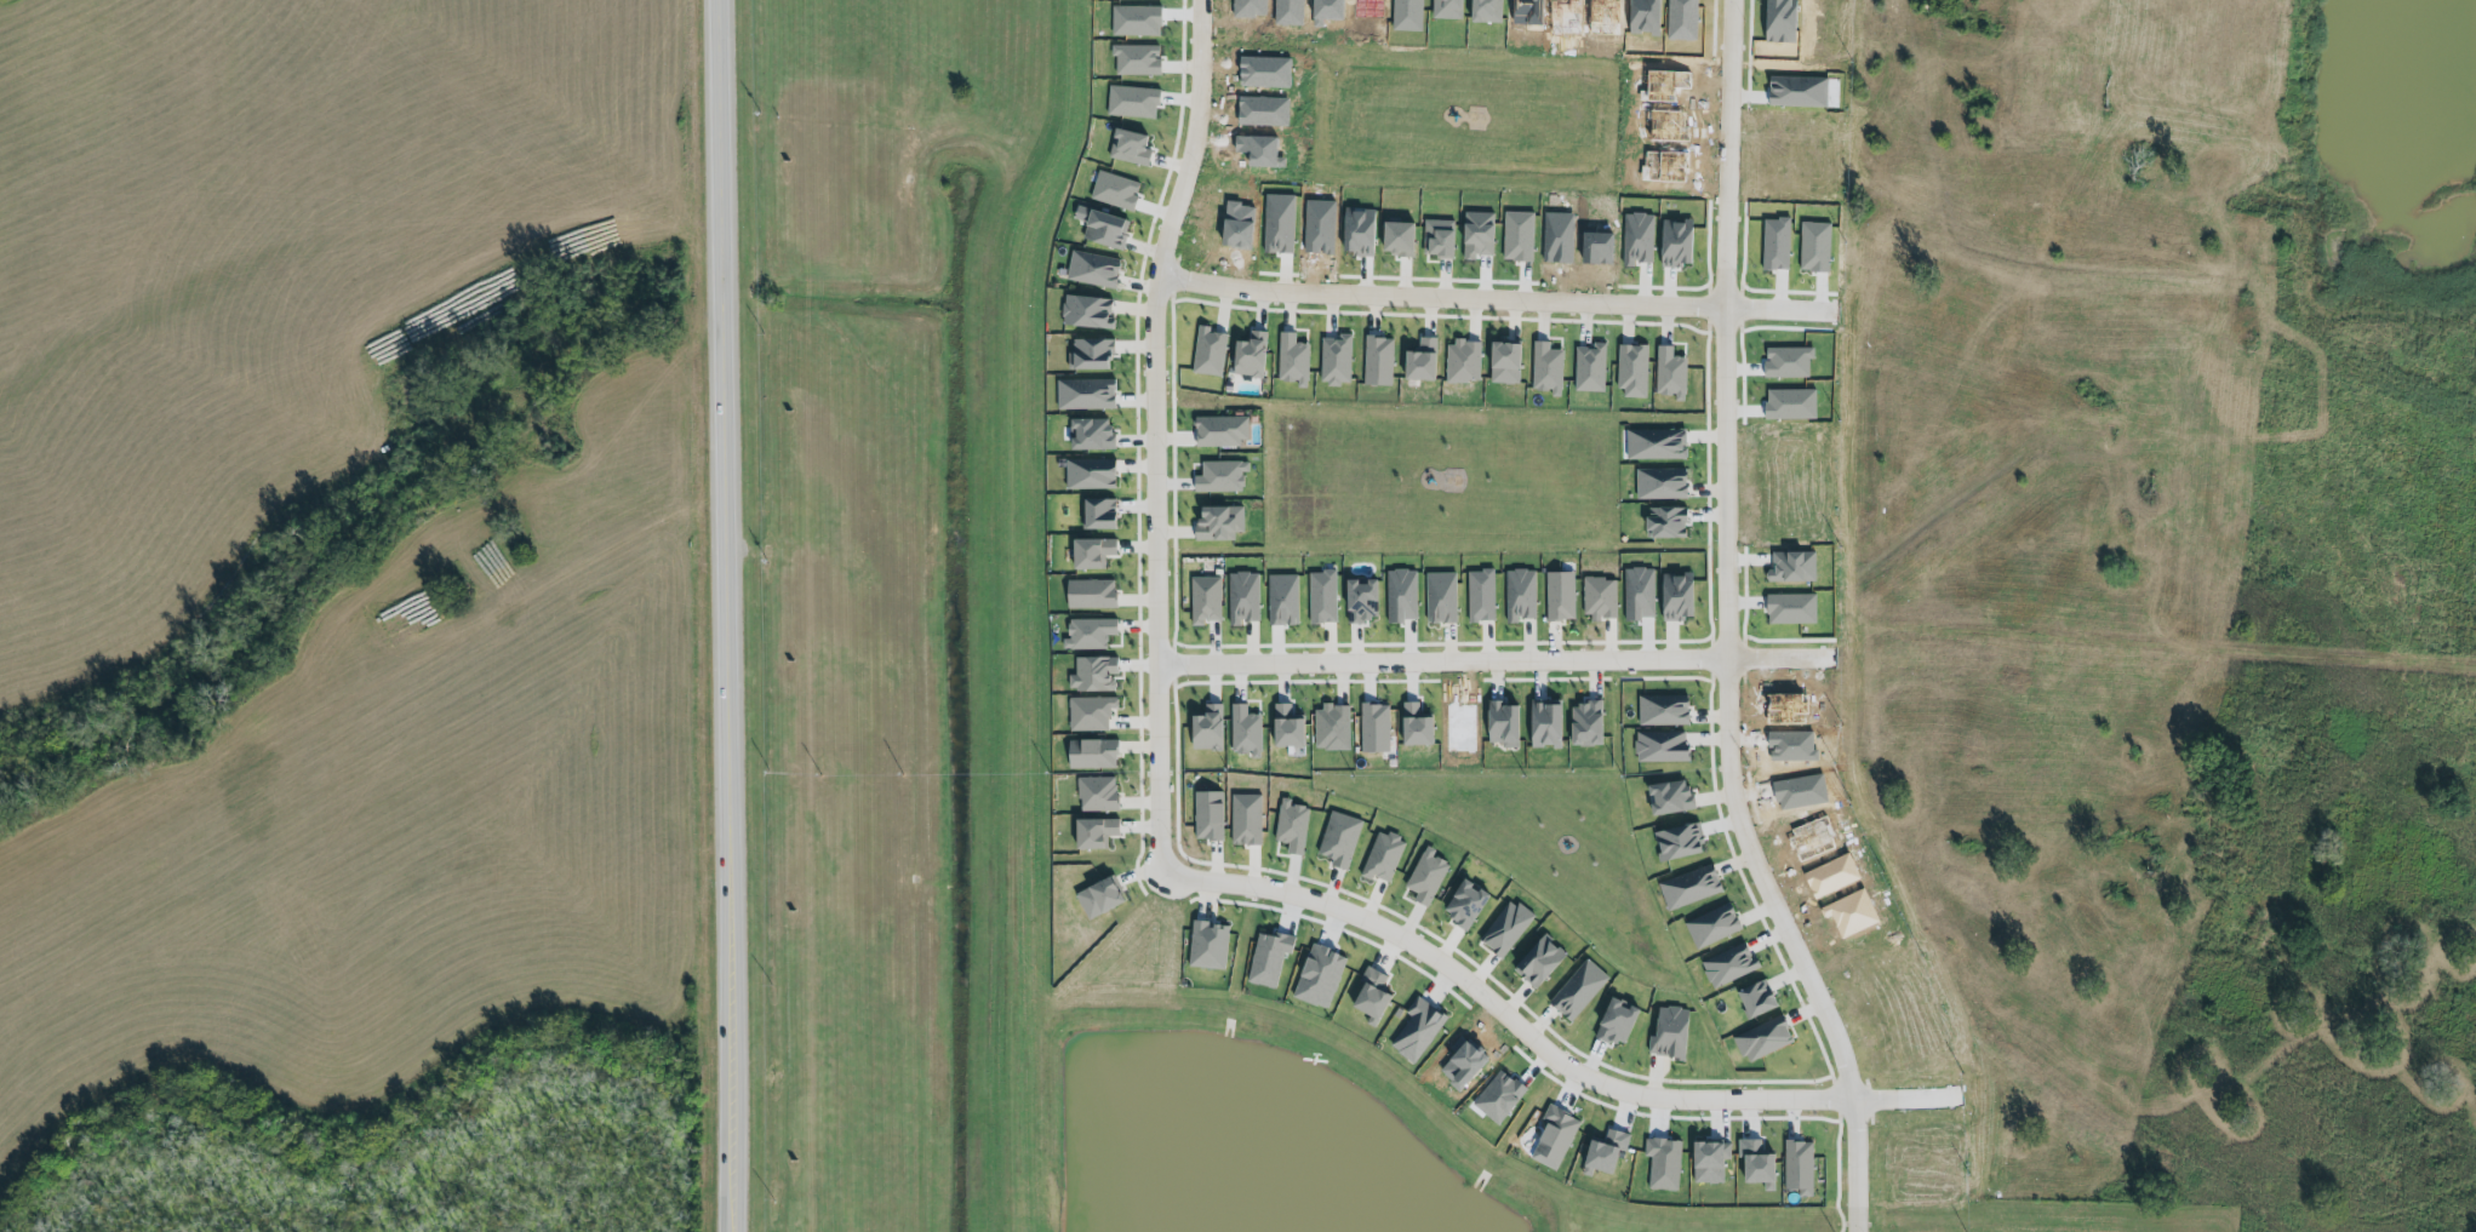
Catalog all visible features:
road: (1194, 142)
road: (1729, 154)
building: (1104, 230)
building: (1092, 270)
road: (1436, 299)
road: (1772, 309)
building: (1086, 313)
building: (1208, 353)
building: (1090, 355)
building: (1247, 356)
building: (1292, 360)
building: (1462, 360)
building: (1334, 361)
building: (1377, 362)
building: (1418, 362)
building: (1502, 363)
building: (1589, 368)
building: (1545, 369)
building: (1631, 372)
building: (1669, 374)
building: (1085, 395)
building: (1219, 430)
building: (1090, 435)
building: (1654, 443)
building: (1090, 475)
building: (1219, 476)
building: (1660, 483)
building: (1097, 512)
building: (1217, 522)
building: (1090, 552)
road: (1149, 577)
building: (1090, 594)
building: (1520, 594)
building: (1480, 595)
building: (1321, 596)
building: (1559, 596)
building: (1675, 596)
building: (1241, 597)
building: (1439, 597)
building: (1597, 597)
building: (1203, 600)
building: (1359, 600)
road: (734, 615)
building: (1087, 632)
road: (2167, 651)
road: (1436, 665)
building: (1092, 674)
building: (1662, 710)
building: (1088, 712)
road: (1722, 717)
building: (1500, 723)
building: (1584, 723)
building: (1543, 724)
building: (1283, 726)
building: (1412, 726)
building: (1205, 728)
building: (1331, 728)
building: (1373, 728)
building: (1245, 730)
building: (1660, 746)
building: (1091, 753)
building: (1096, 793)
building: (1668, 796)
building: (1206, 815)
building: (1246, 819)
building: (1291, 826)
building: (1092, 832)
building: (1338, 840)
building: (1383, 856)
building: (1425, 877)
building: (1688, 887)
building: (1100, 895)
building: (1463, 904)
building: (1711, 926)
building: (1504, 928)
building: (1207, 945)
building: (1266, 958)
building: (1537, 961)
building: (1728, 964)
building: (1317, 976)
building: (1577, 990)
building: (1368, 996)
building: (1755, 998)
road: (1497, 1013)
building: (1414, 1031)
building: (1666, 1032)
building: (1762, 1039)
building: (1552, 1138)
building: (1797, 1167)
road: (1849, 1168)

